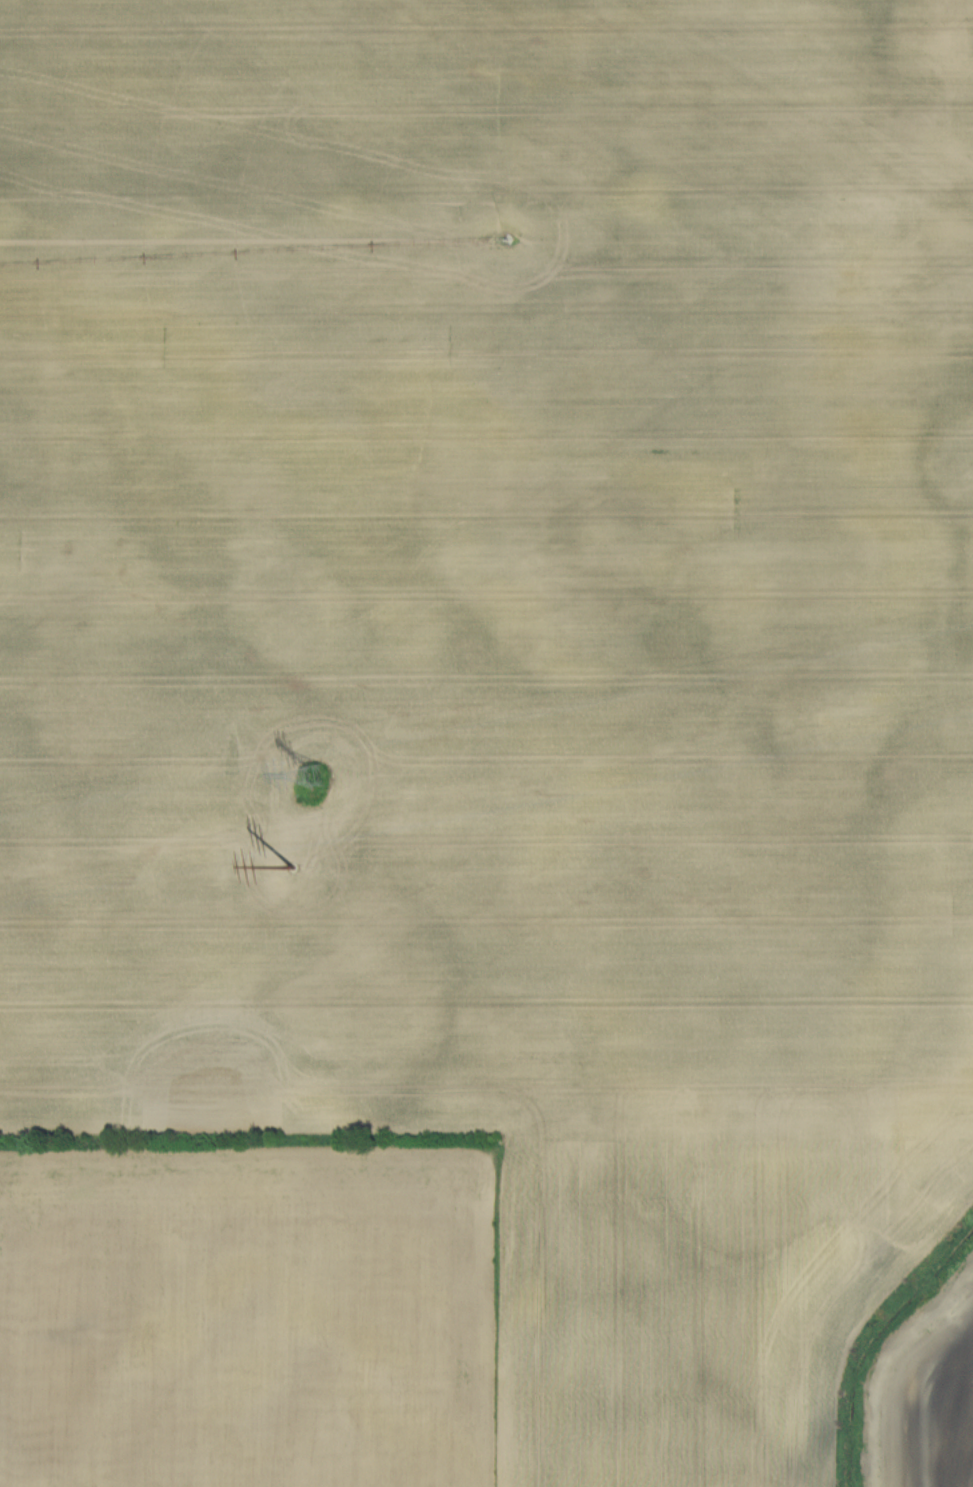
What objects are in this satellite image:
power tower: (318, 776)
power tower: (287, 862)

